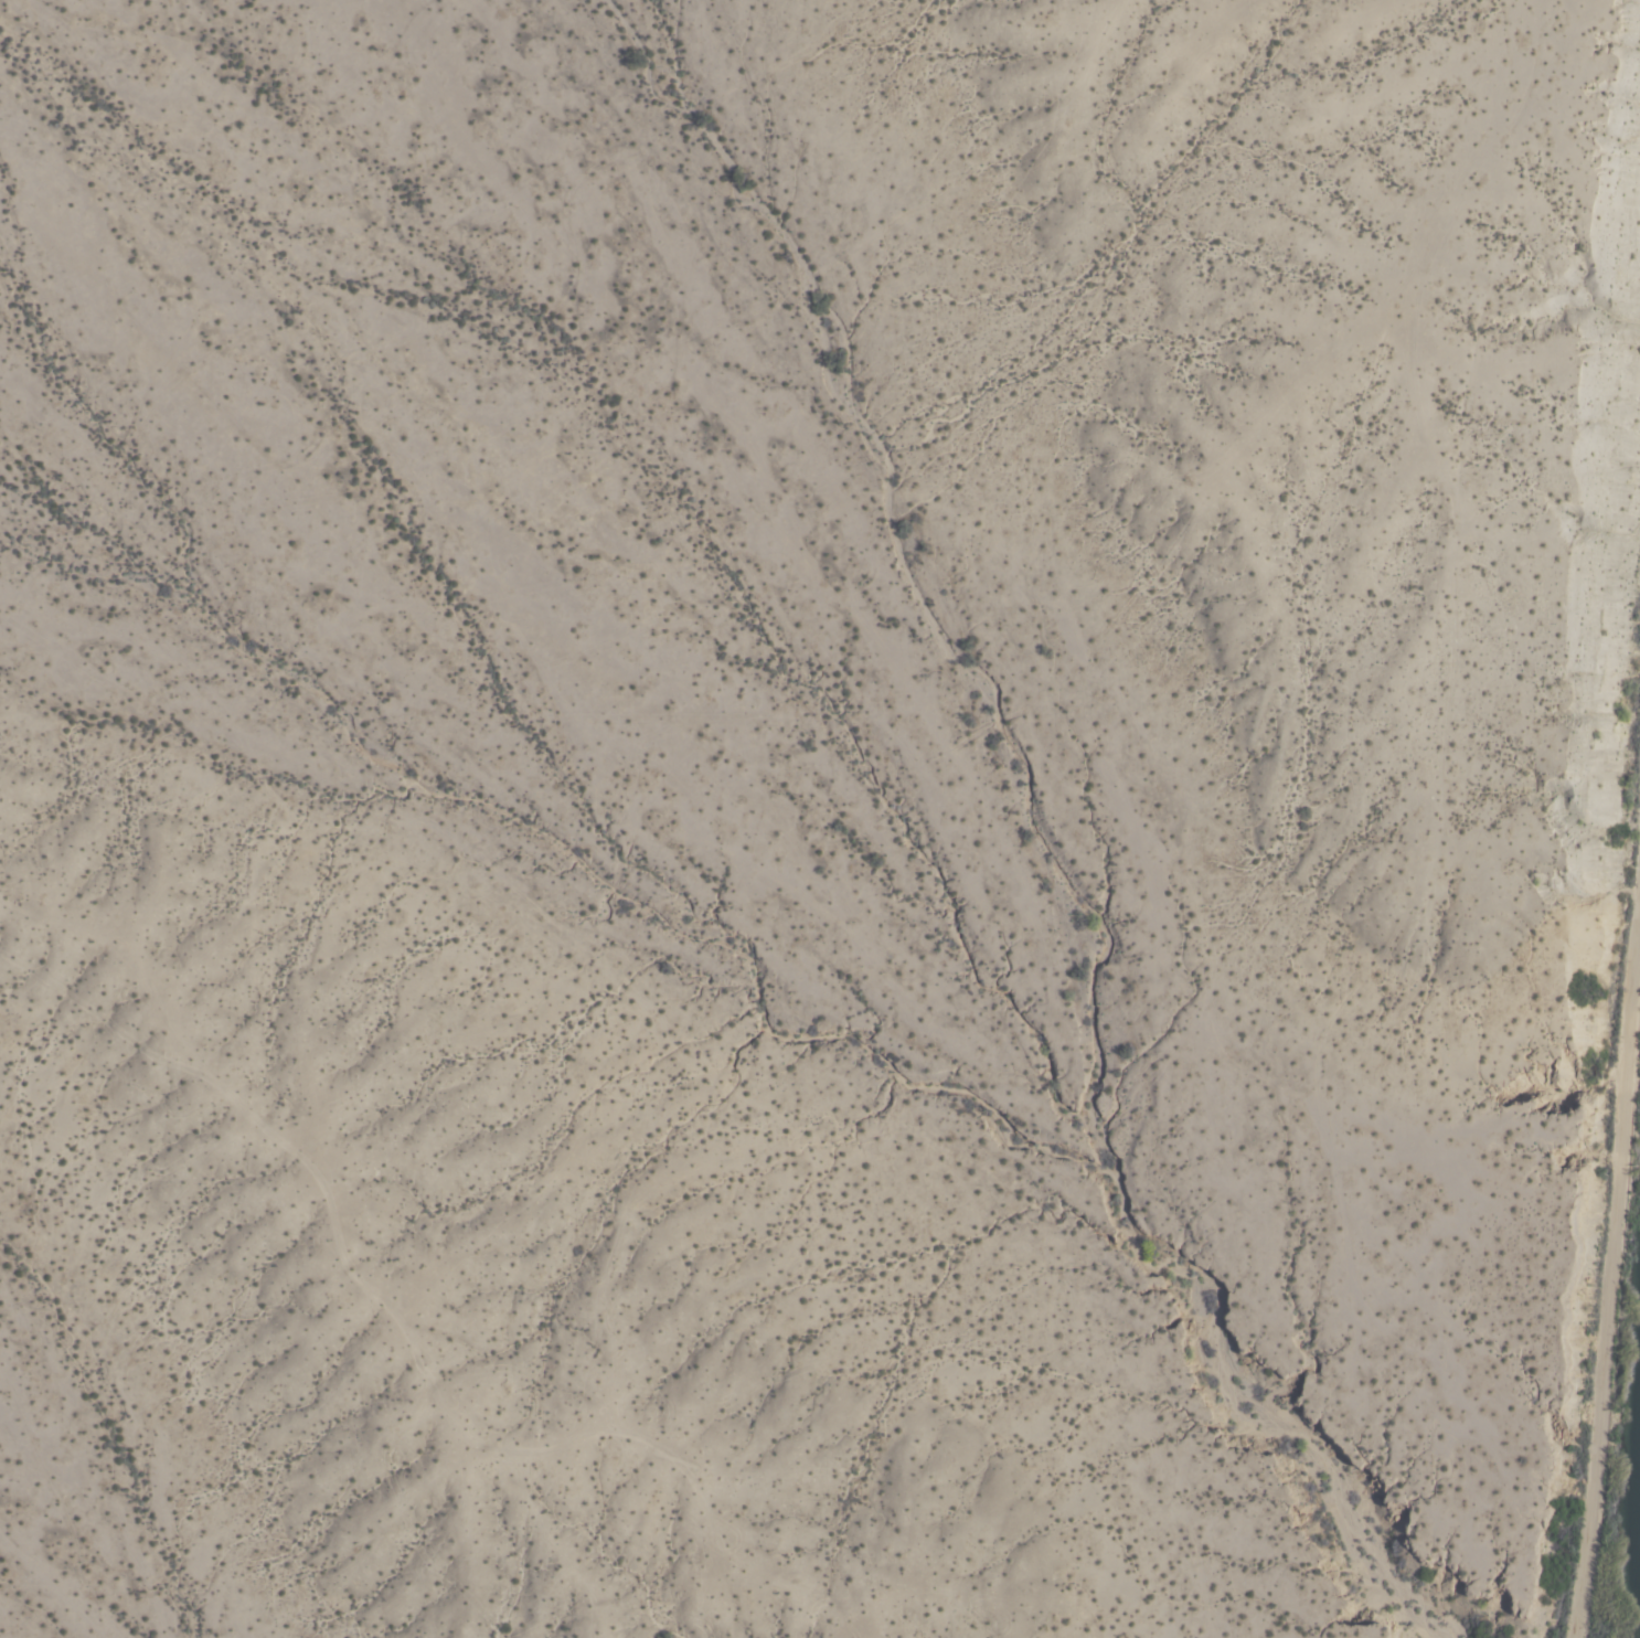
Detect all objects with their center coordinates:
road: (1538, 859)
road: (1493, 1631)

